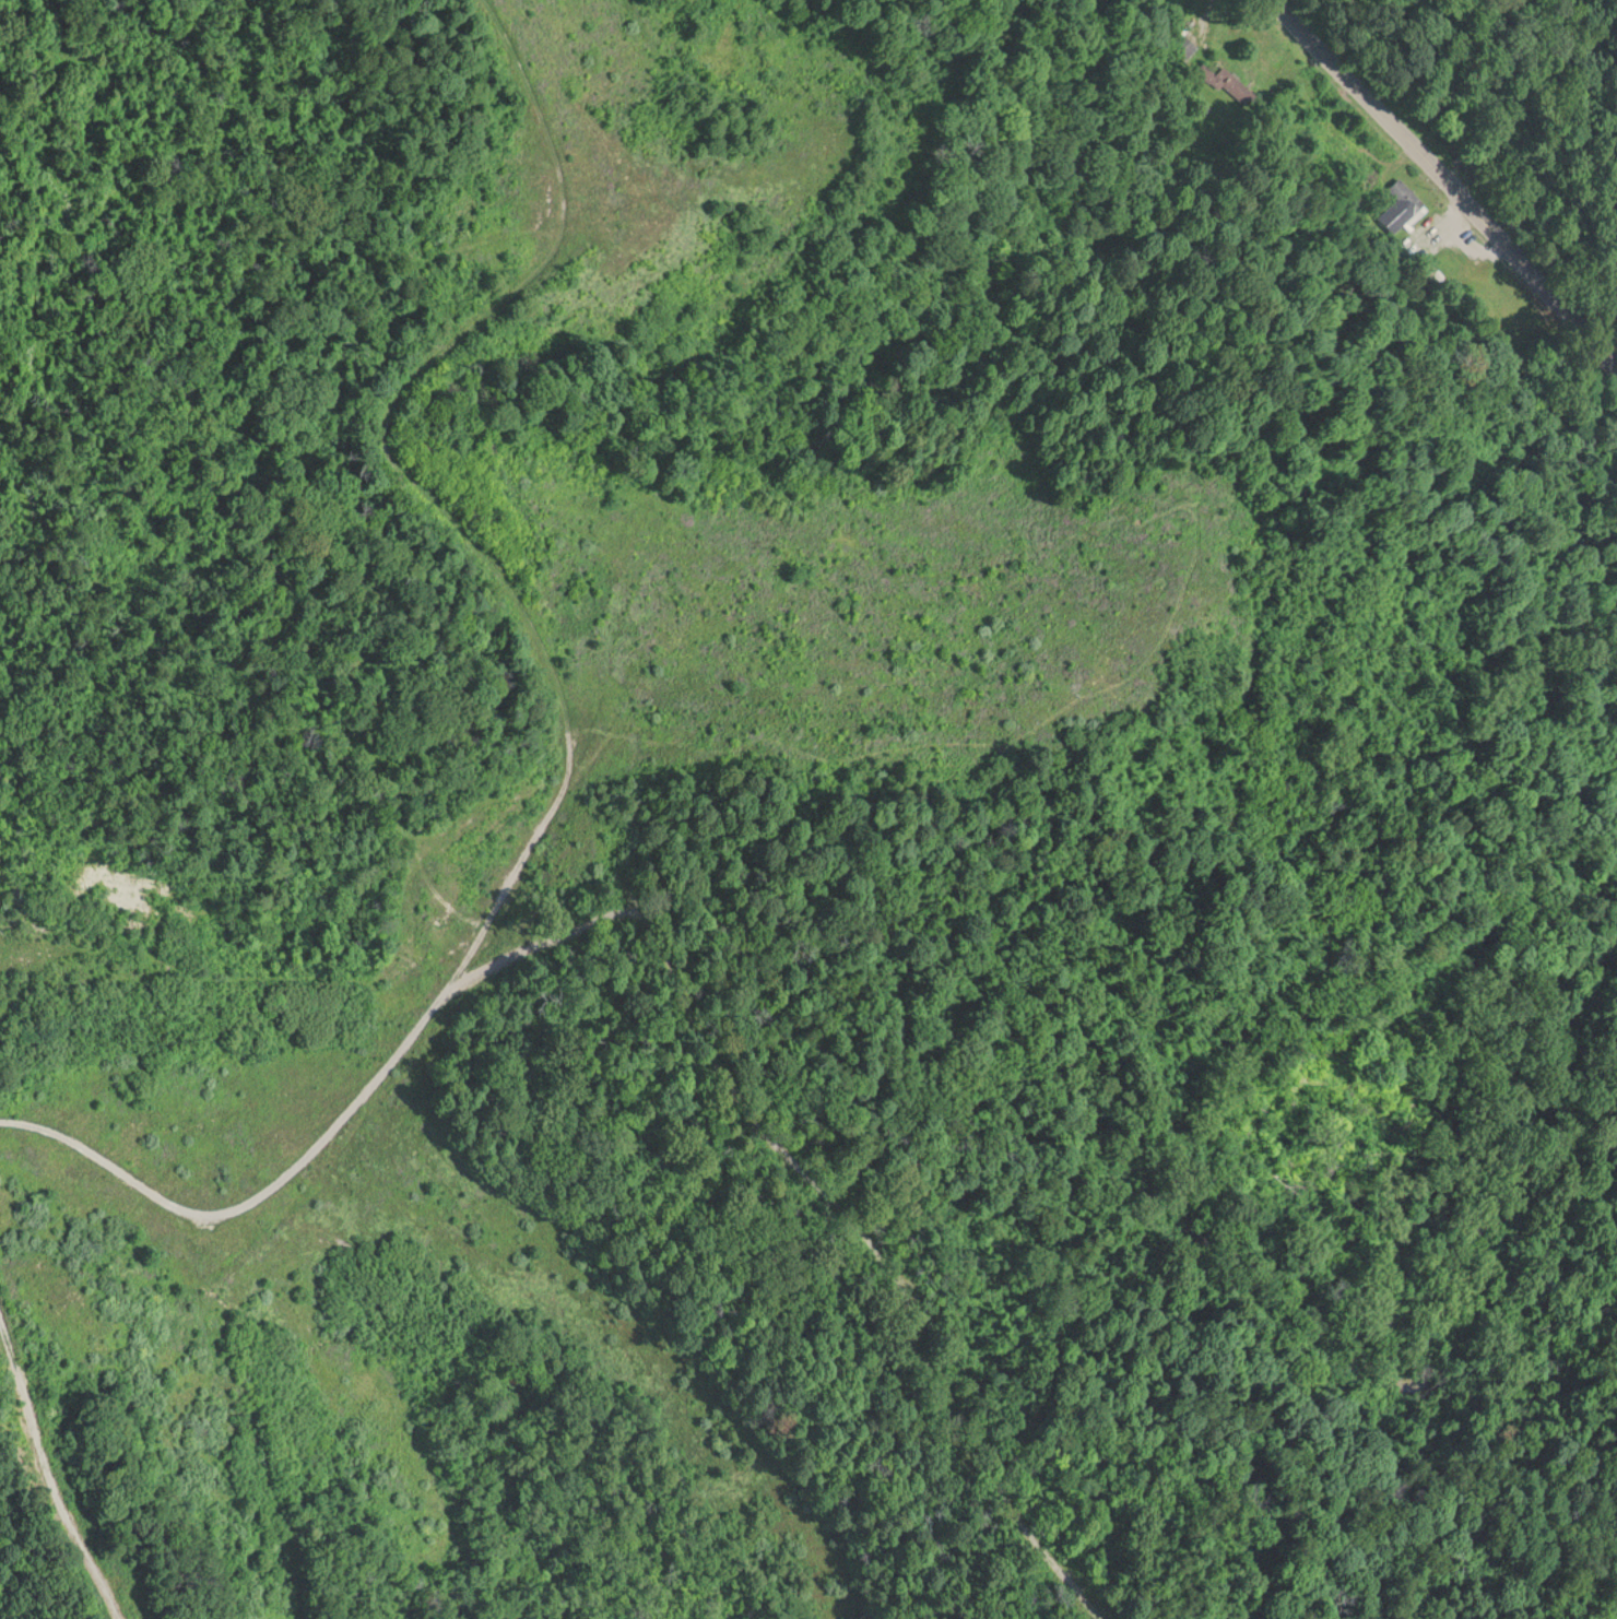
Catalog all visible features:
building: (1224, 76)
building: (1320, 132)
road: (1447, 179)

